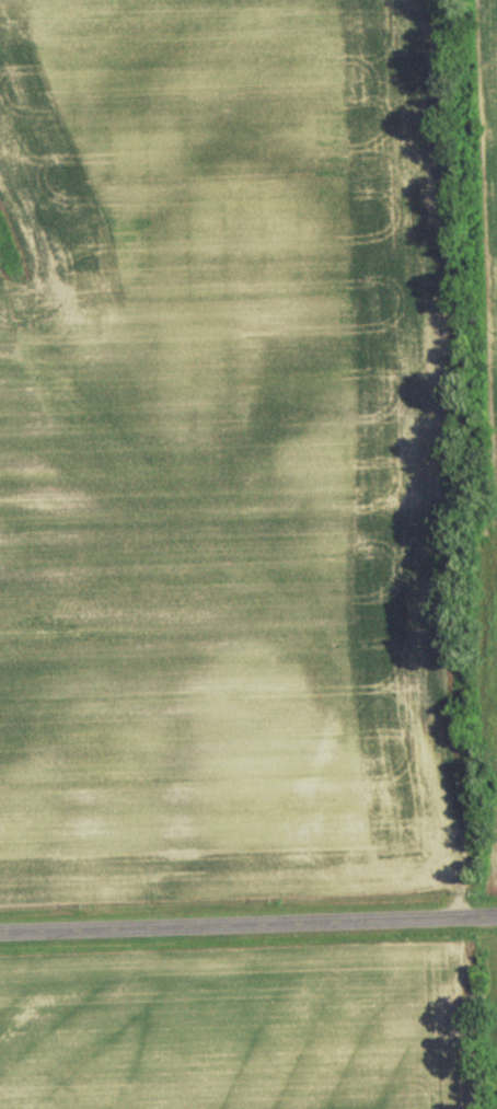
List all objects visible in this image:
road: (248, 927)

